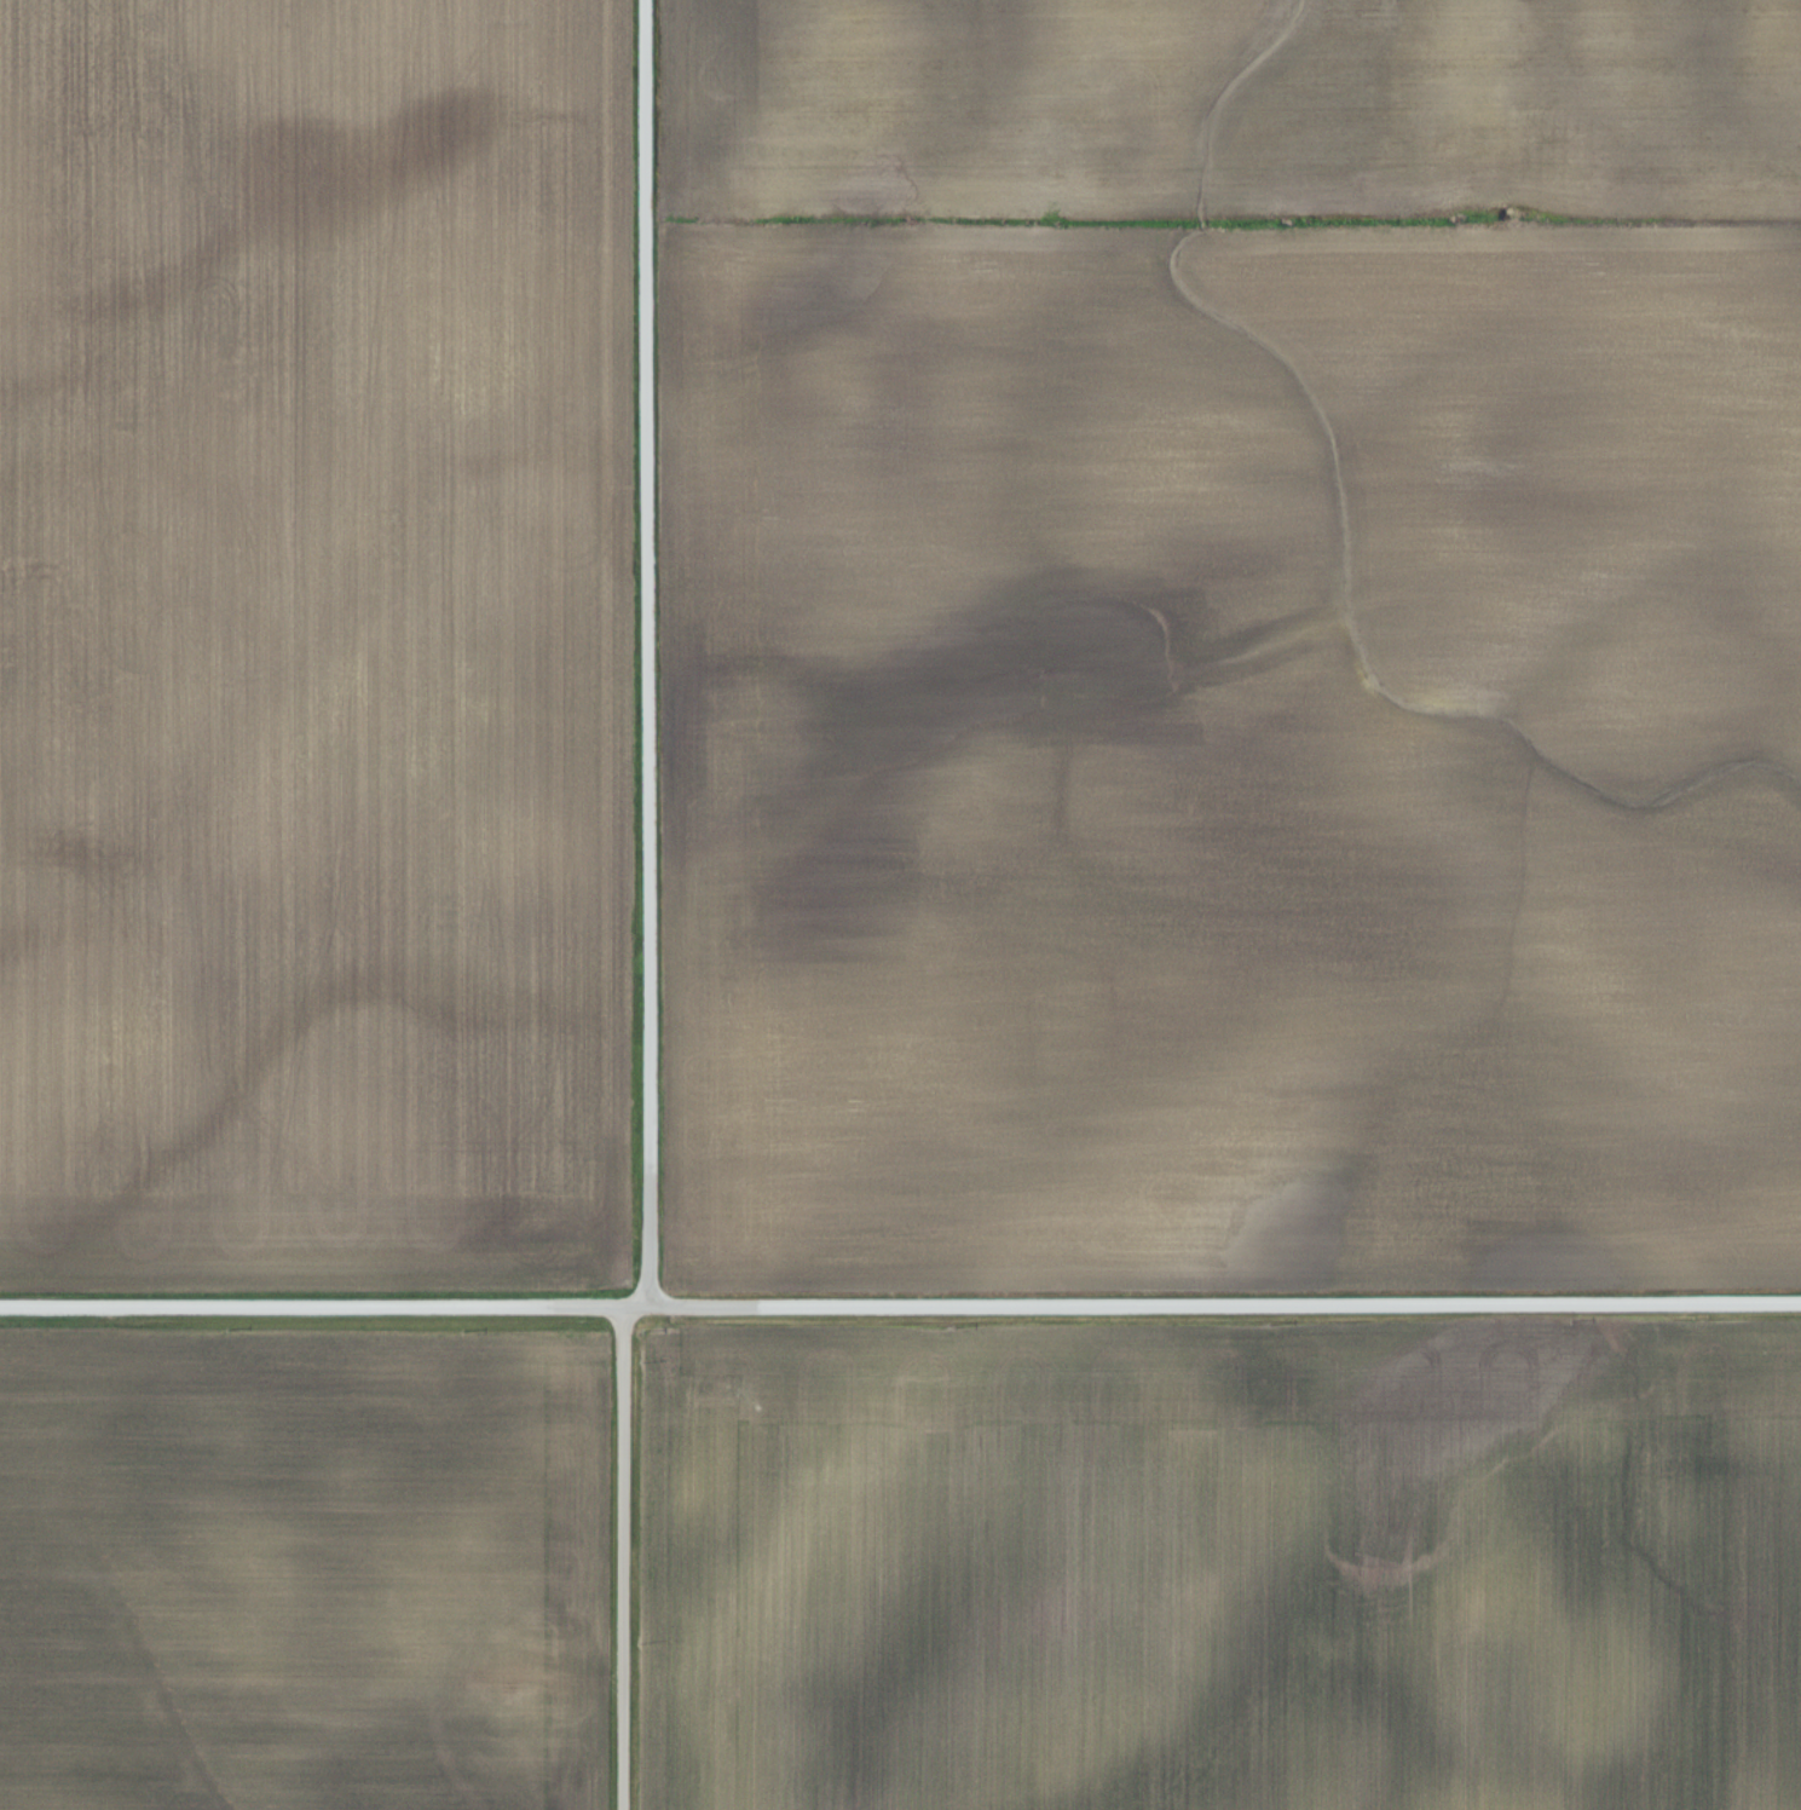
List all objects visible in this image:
road: (646, 652)
road: (900, 1302)
road: (622, 1554)

